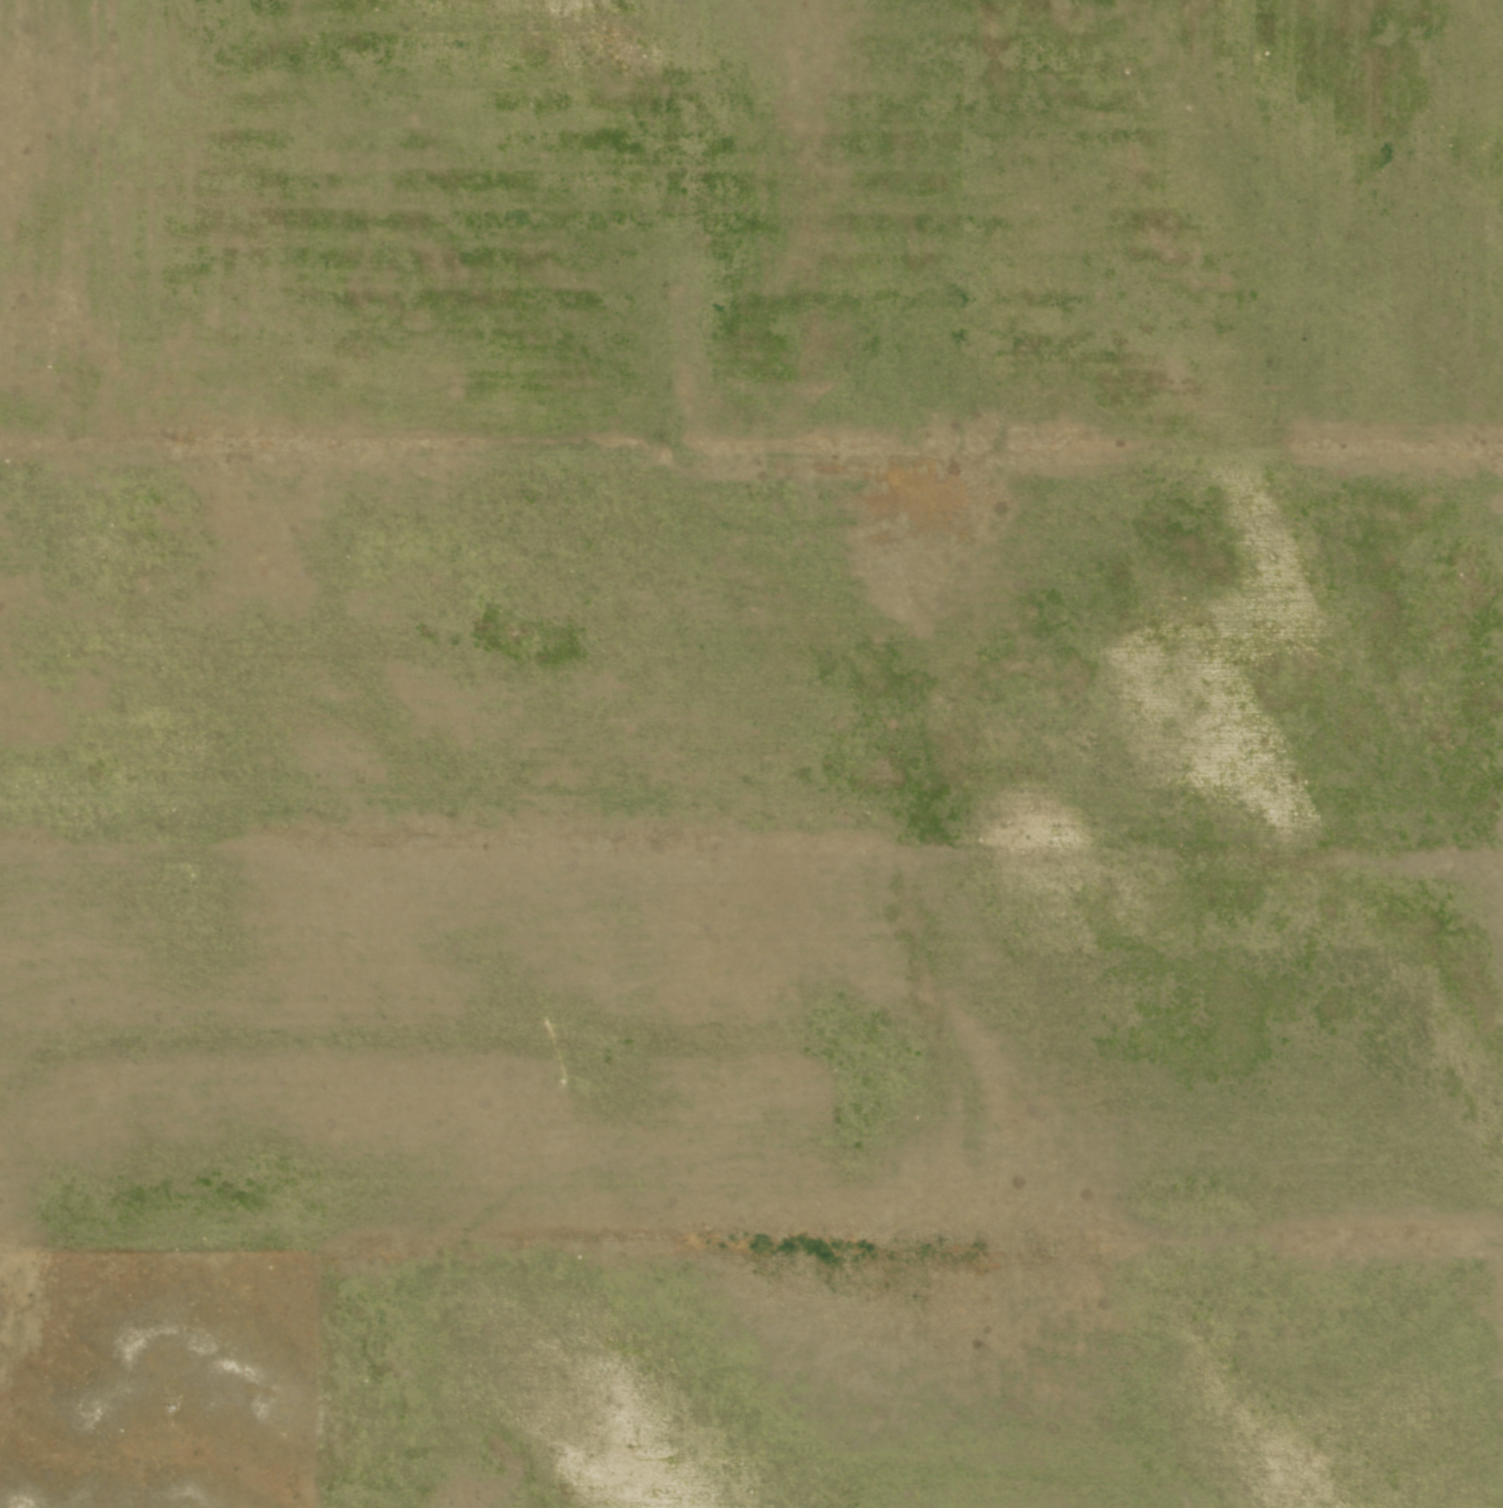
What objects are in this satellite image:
crop: (751, 223)

